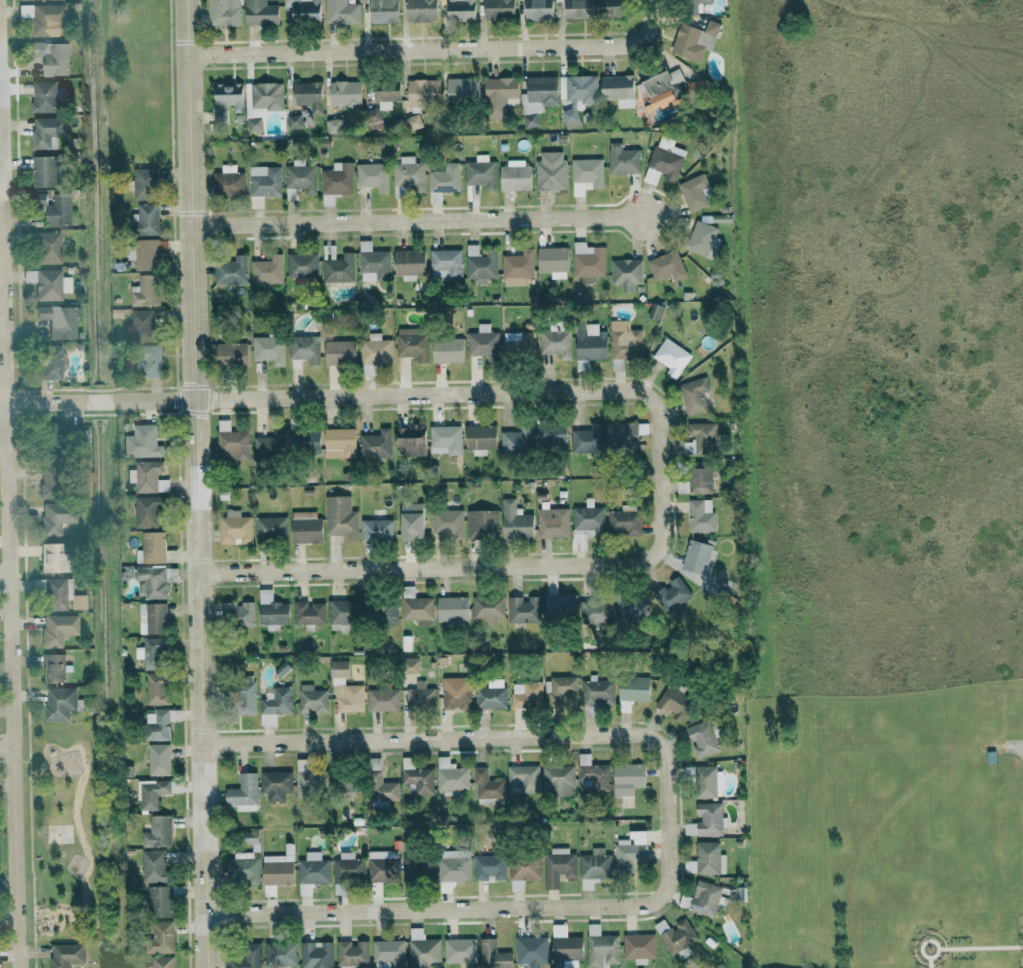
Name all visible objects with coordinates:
building: (36, 0)
building: (693, 5)
building: (612, 8)
building: (498, 9)
building: (578, 9)
building: (304, 10)
building: (421, 10)
building: (461, 10)
building: (539, 10)
building: (383, 11)
building: (223, 12)
building: (341, 12)
building: (260, 13)
building: (42, 18)
building: (712, 28)
building: (706, 40)
building: (687, 43)
road: (435, 49)
building: (52, 57)
building: (695, 86)
building: (618, 88)
building: (463, 89)
building: (661, 91)
building: (423, 92)
building: (345, 93)
building: (386, 95)
building: (266, 96)
building: (308, 96)
building: (500, 96)
building: (46, 98)
building: (537, 98)
building: (226, 100)
building: (374, 120)
building: (294, 121)
building: (412, 122)
building: (254, 125)
building: (47, 131)
building: (622, 159)
building: (550, 171)
building: (44, 172)
building: (480, 172)
building: (408, 173)
building: (586, 175)
building: (372, 176)
building: (515, 176)
building: (444, 179)
building: (299, 180)
building: (264, 181)
building: (228, 182)
building: (336, 182)
building: (144, 184)
building: (695, 192)
building: (40, 199)
building: (59, 211)
road: (417, 219)
building: (145, 220)
road: (0, 230)
building: (702, 240)
building: (47, 248)
building: (148, 253)
building: (409, 262)
building: (587, 262)
building: (373, 264)
building: (446, 264)
building: (480, 264)
building: (302, 265)
building: (666, 266)
building: (517, 268)
building: (338, 269)
building: (267, 270)
building: (231, 272)
building: (626, 274)
building: (48, 284)
building: (146, 291)
building: (654, 311)
building: (59, 321)
building: (142, 325)
building: (624, 340)
building: (482, 342)
building: (519, 342)
building: (412, 343)
building: (589, 343)
building: (304, 348)
building: (268, 349)
building: (376, 350)
building: (447, 350)
building: (340, 352)
building: (231, 354)
building: (671, 357)
building: (147, 360)
building: (50, 362)
road: (405, 393)
building: (693, 394)
building: (622, 433)
building: (551, 435)
building: (480, 438)
building: (701, 438)
building: (411, 439)
building: (445, 439)
building: (586, 439)
building: (516, 440)
building: (304, 441)
building: (142, 442)
building: (231, 442)
building: (339, 443)
building: (375, 444)
building: (267, 448)
building: (147, 477)
building: (696, 479)
road: (196, 484)
building: (47, 493)
building: (147, 512)
building: (699, 513)
building: (56, 517)
building: (340, 517)
building: (412, 520)
building: (623, 520)
building: (515, 521)
building: (448, 522)
building: (552, 522)
building: (482, 523)
building: (585, 525)
building: (305, 527)
building: (234, 528)
building: (270, 529)
building: (376, 530)
building: (153, 547)
building: (51, 557)
building: (695, 558)
road: (427, 568)
road: (9, 570)
road: (5, 577)
building: (151, 581)
building: (57, 593)
building: (672, 596)
building: (560, 605)
building: (631, 606)
building: (416, 607)
building: (488, 608)
building: (271, 609)
building: (452, 609)
building: (523, 609)
building: (595, 612)
building: (237, 613)
building: (309, 613)
building: (344, 613)
building: (386, 613)
building: (152, 618)
building: (57, 629)
building: (154, 649)
building: (409, 665)
building: (53, 668)
building: (156, 688)
building: (560, 688)
building: (634, 688)
building: (345, 689)
building: (456, 692)
building: (597, 692)
building: (526, 694)
building: (491, 695)
building: (420, 696)
building: (245, 698)
building: (312, 699)
building: (383, 699)
building: (61, 703)
building: (674, 703)
building: (274, 704)
building: (174, 715)
building: (156, 725)
building: (702, 738)
road: (473, 739)
road: (7, 747)
road: (1015, 749)
building: (158, 759)
building: (593, 773)
building: (523, 775)
building: (417, 776)
building: (451, 777)
building: (307, 779)
building: (558, 780)
building: (343, 781)
building: (627, 781)
building: (705, 782)
building: (486, 784)
building: (275, 785)
building: (151, 793)
building: (243, 793)
park: (60, 824)
park: (888, 829)
park: (61, 830)
building: (157, 832)
building: (250, 839)
building: (630, 851)
building: (706, 859)
building: (454, 865)
building: (153, 866)
building: (383, 866)
building: (558, 866)
building: (348, 867)
building: (489, 867)
building: (418, 868)
building: (594, 868)
building: (525, 869)
building: (243, 870)
building: (277, 870)
building: (311, 872)
building: (705, 898)
building: (157, 901)
road: (467, 908)
road: (8, 919)
building: (675, 935)
building: (160, 938)
building: (566, 946)
building: (601, 947)
building: (638, 947)
building: (423, 950)
building: (459, 950)
building: (531, 951)
building: (389, 952)
building: (280, 953)
building: (352, 953)
building: (65, 954)
building: (316, 954)
building: (493, 955)
building: (246, 956)
building: (162, 962)

